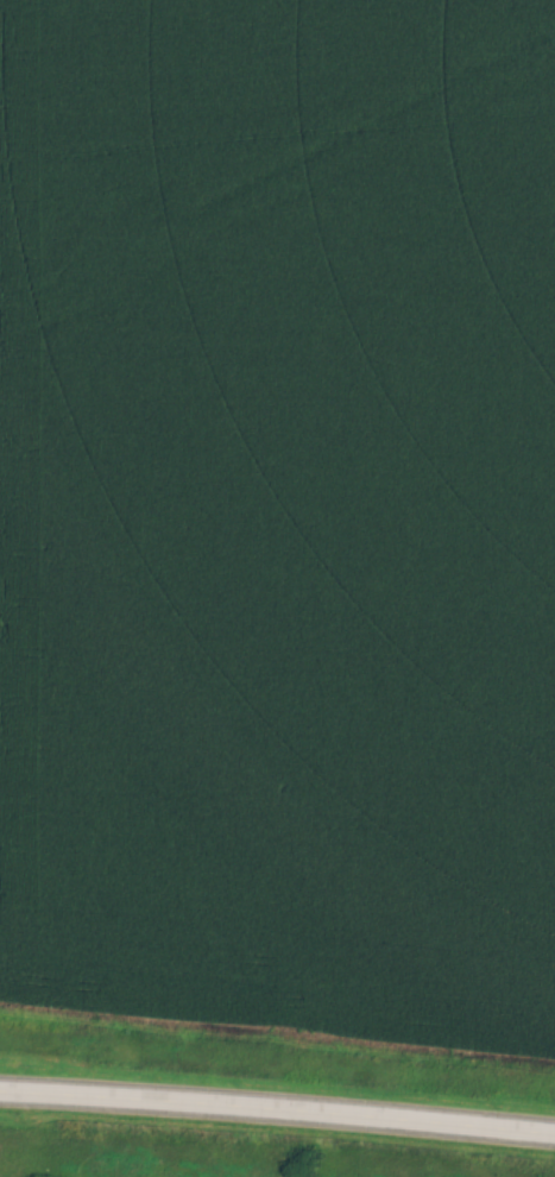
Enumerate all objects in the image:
road: (277, 1115)

